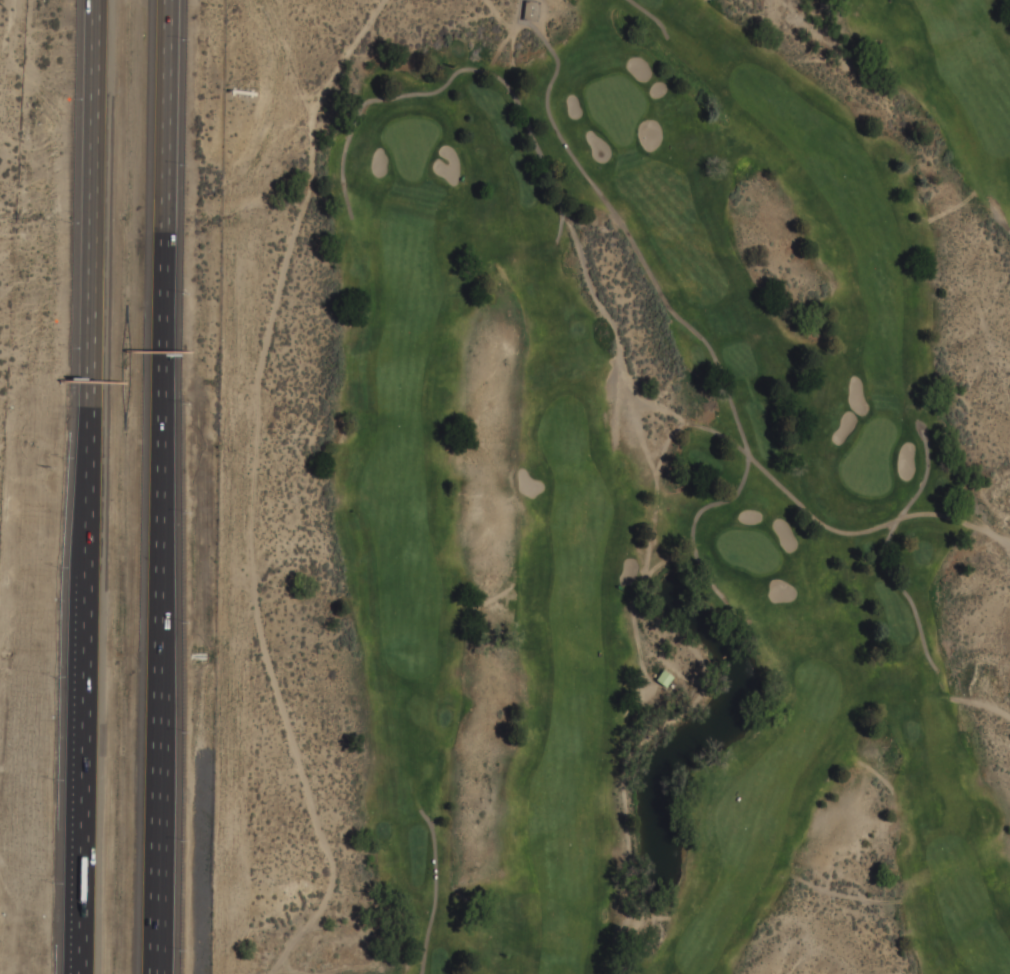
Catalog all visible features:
building: (531, 10)
road: (650, 15)
road: (458, 70)
road: (999, 221)
road: (667, 304)
road: (83, 486)
road: (166, 487)
park: (614, 488)
building: (664, 678)

